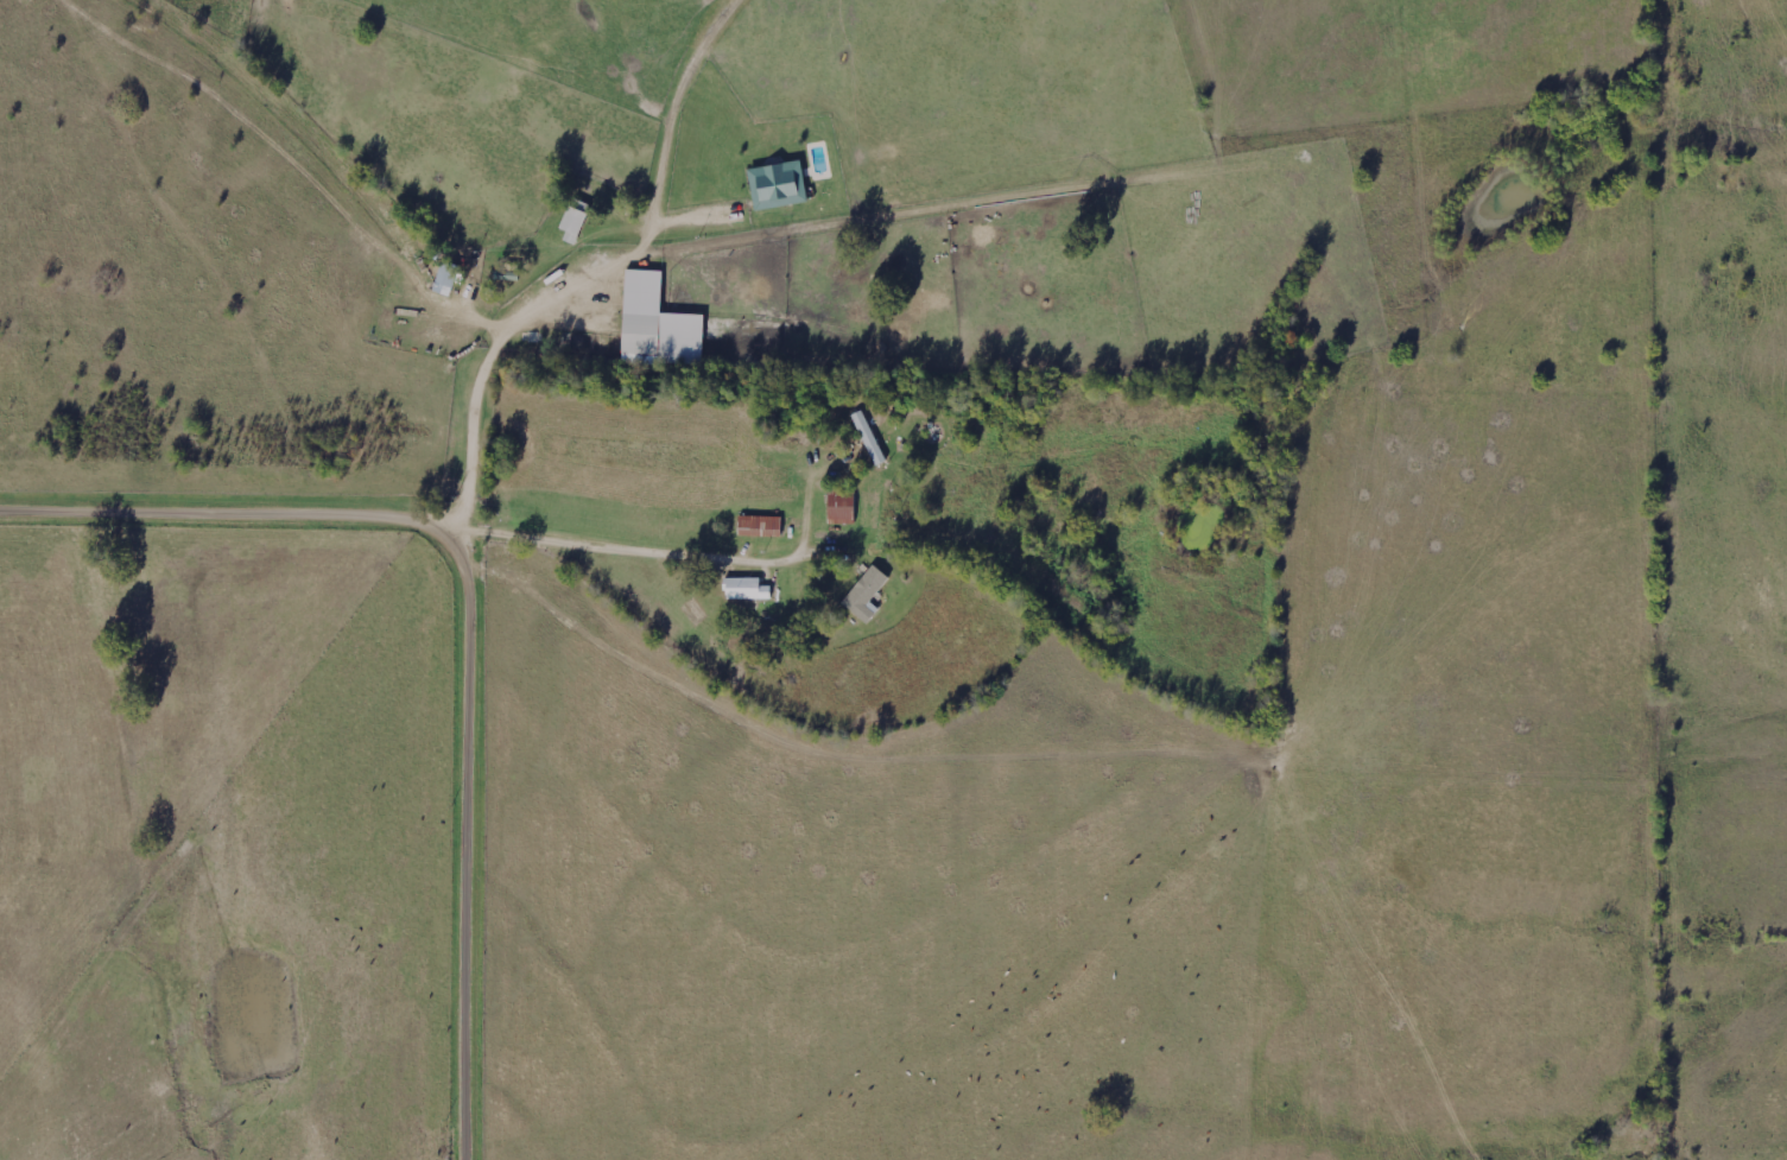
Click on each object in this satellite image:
building: (779, 186)
building: (575, 223)
building: (448, 280)
building: (659, 327)
road: (559, 354)
building: (870, 439)
building: (843, 507)
road: (72, 515)
building: (761, 528)
building: (747, 591)
building: (867, 596)
road: (477, 692)

